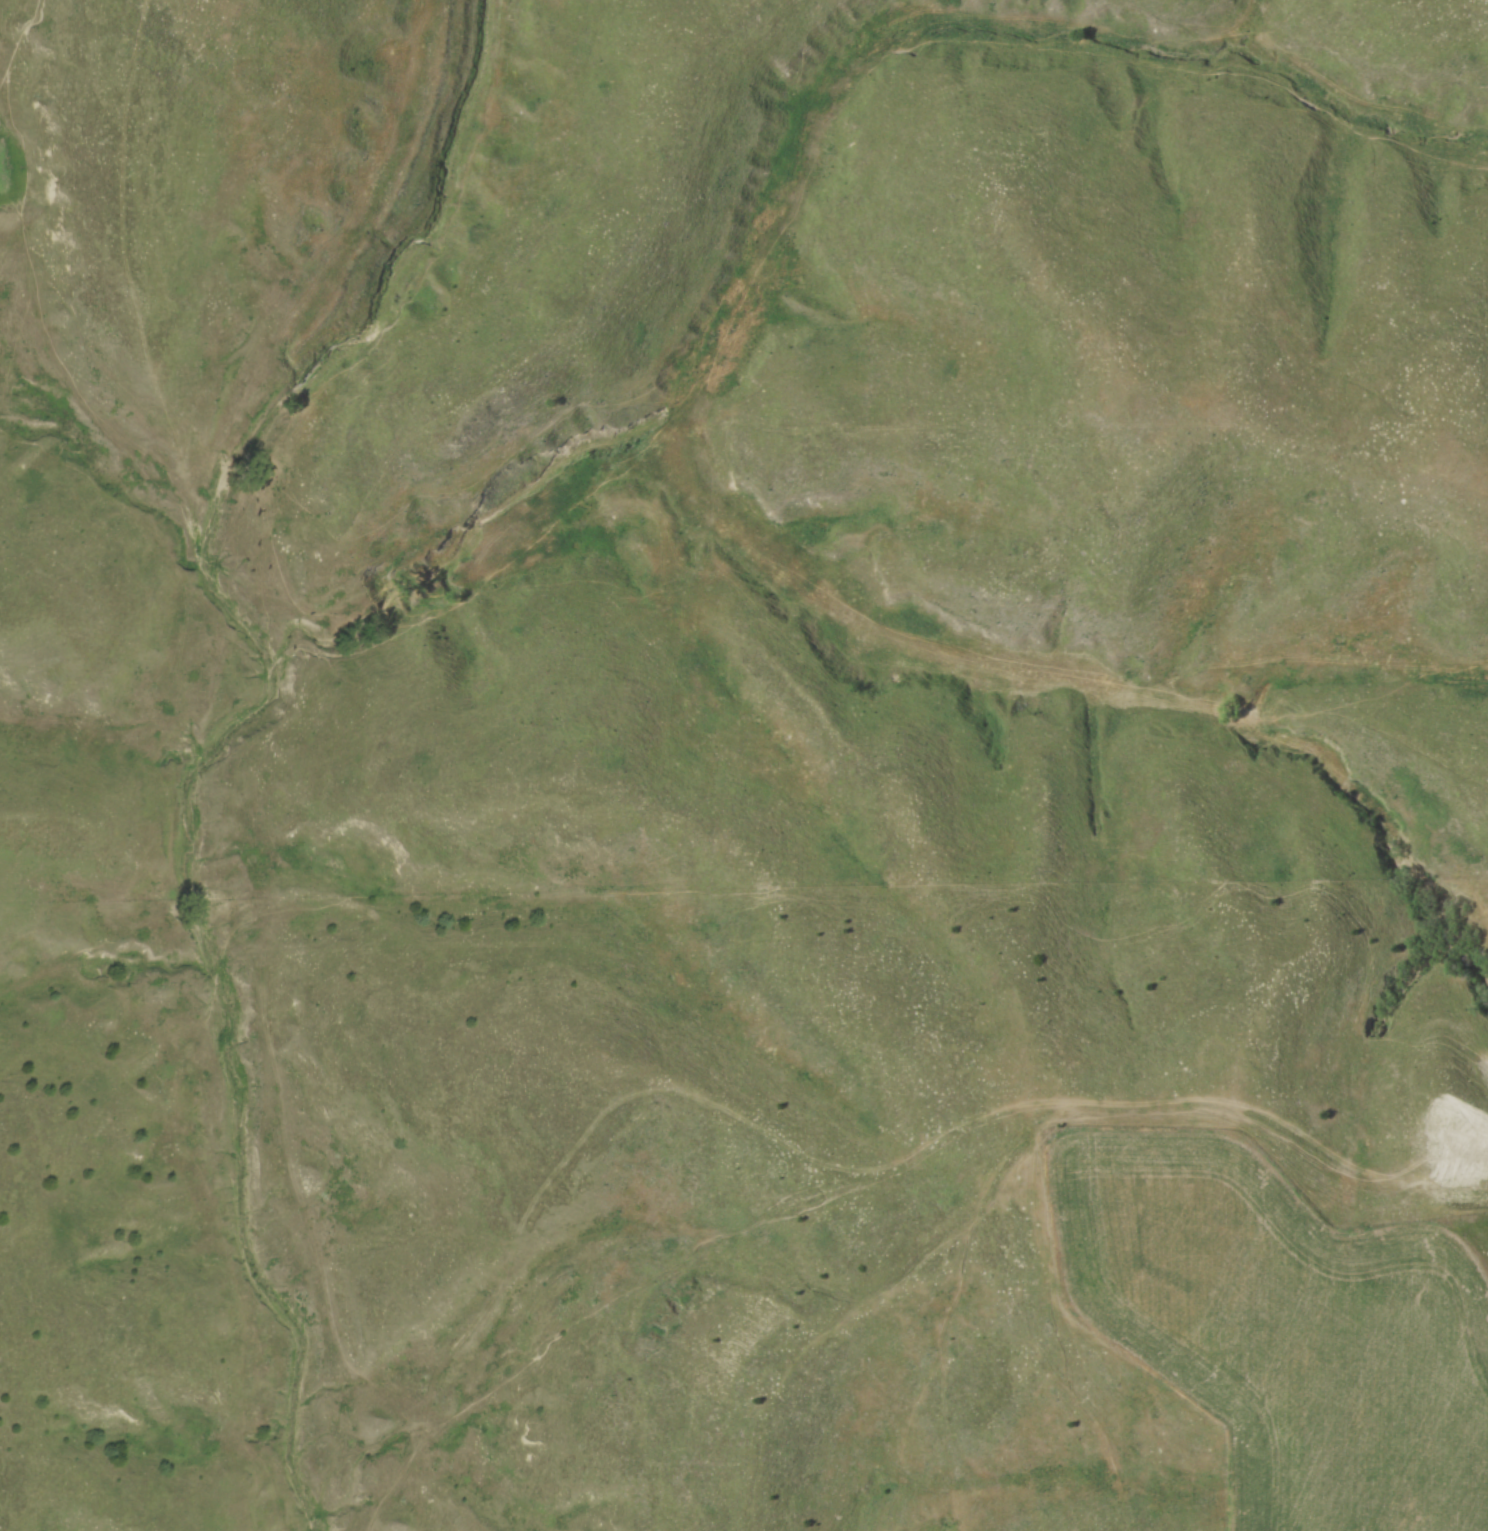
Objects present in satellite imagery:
crop: (1288, 1328)

